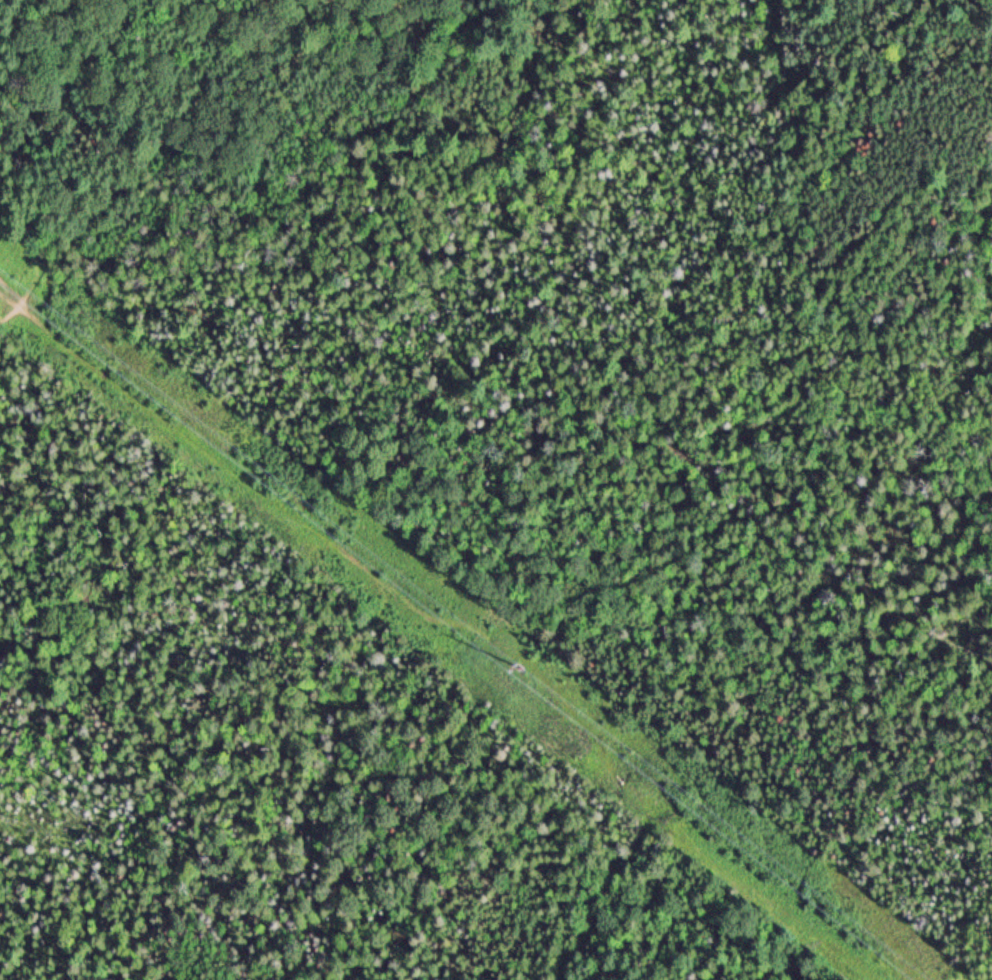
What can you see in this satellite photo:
power tower: (506, 660)

